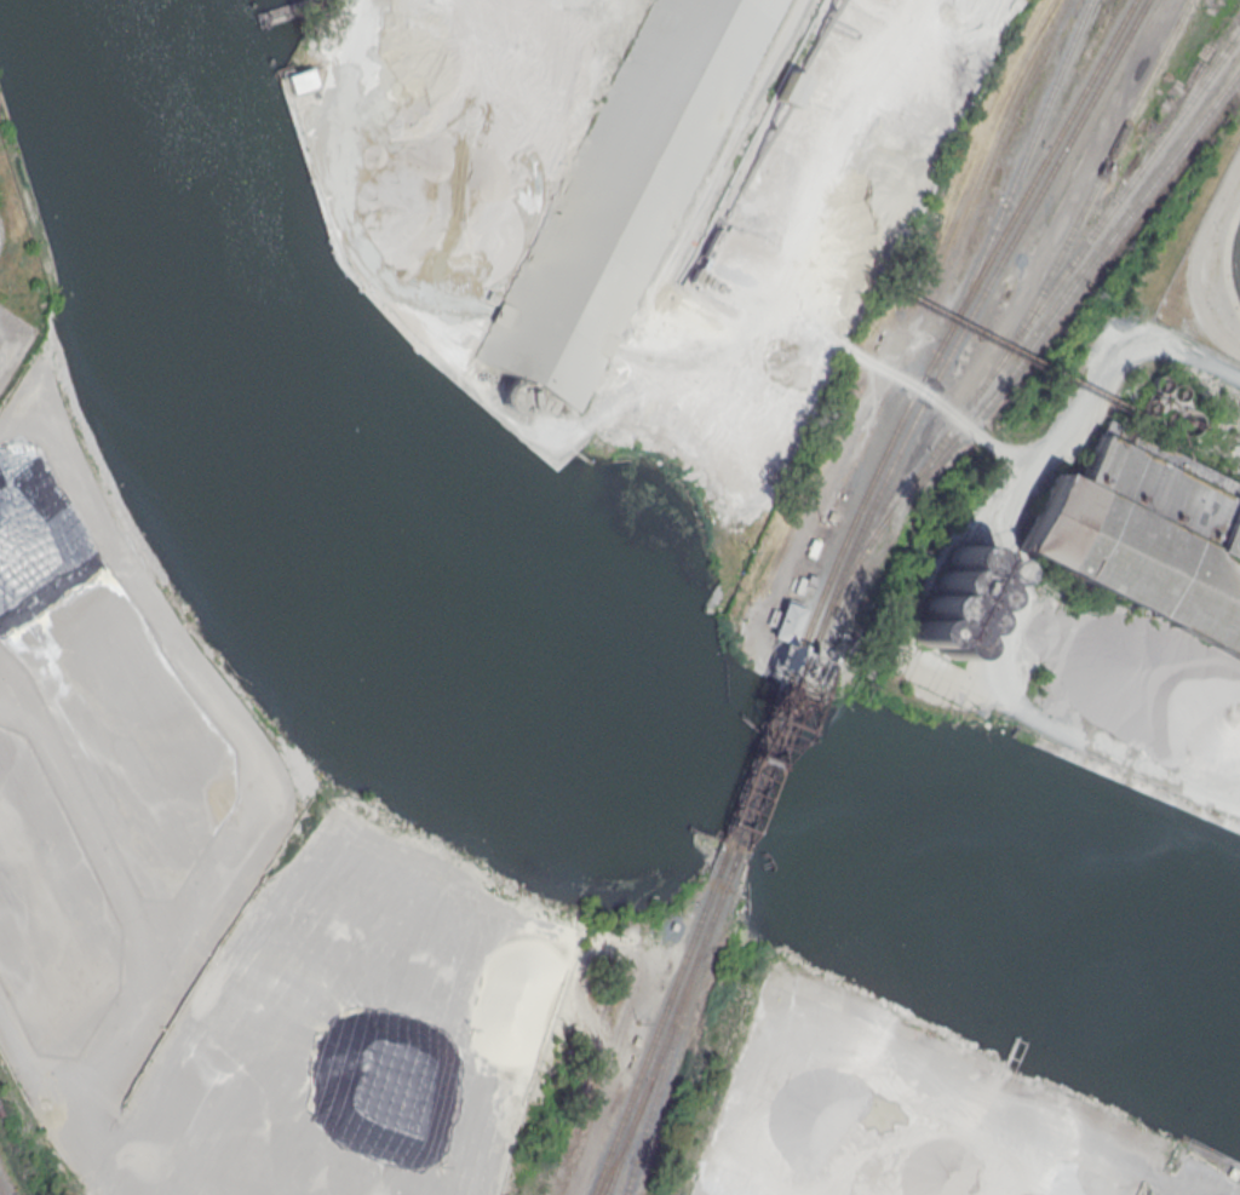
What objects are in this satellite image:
building: (299, 81)
building: (791, 88)
railway: (1024, 154)
railway: (1097, 177)
building: (621, 193)
wastewater plant: (1210, 274)
railway: (1073, 287)
railway: (954, 320)
railway: (966, 322)
railway: (1020, 331)
road: (1190, 358)
building: (1156, 383)
storage tank: (1156, 383)
building: (1173, 391)
storage tank: (1173, 391)
building: (1166, 402)
building: (1144, 407)
storage tank: (1144, 407)
building: (406, 414)
building: (1161, 415)
storage tank: (1161, 415)
building: (1183, 421)
storage tank: (1183, 421)
road: (971, 429)
road: (1206, 447)
building: (452, 535)
building: (1147, 535)
building: (955, 599)
storage tank: (955, 599)
building: (787, 622)
river: (527, 670)
road: (999, 696)
road: (16, 720)
railway: (762, 748)
railway: (773, 752)
railway: (658, 1019)
railway: (670, 1021)
landfill: (350, 1033)
railway: (661, 1070)
railway: (1, 1191)

